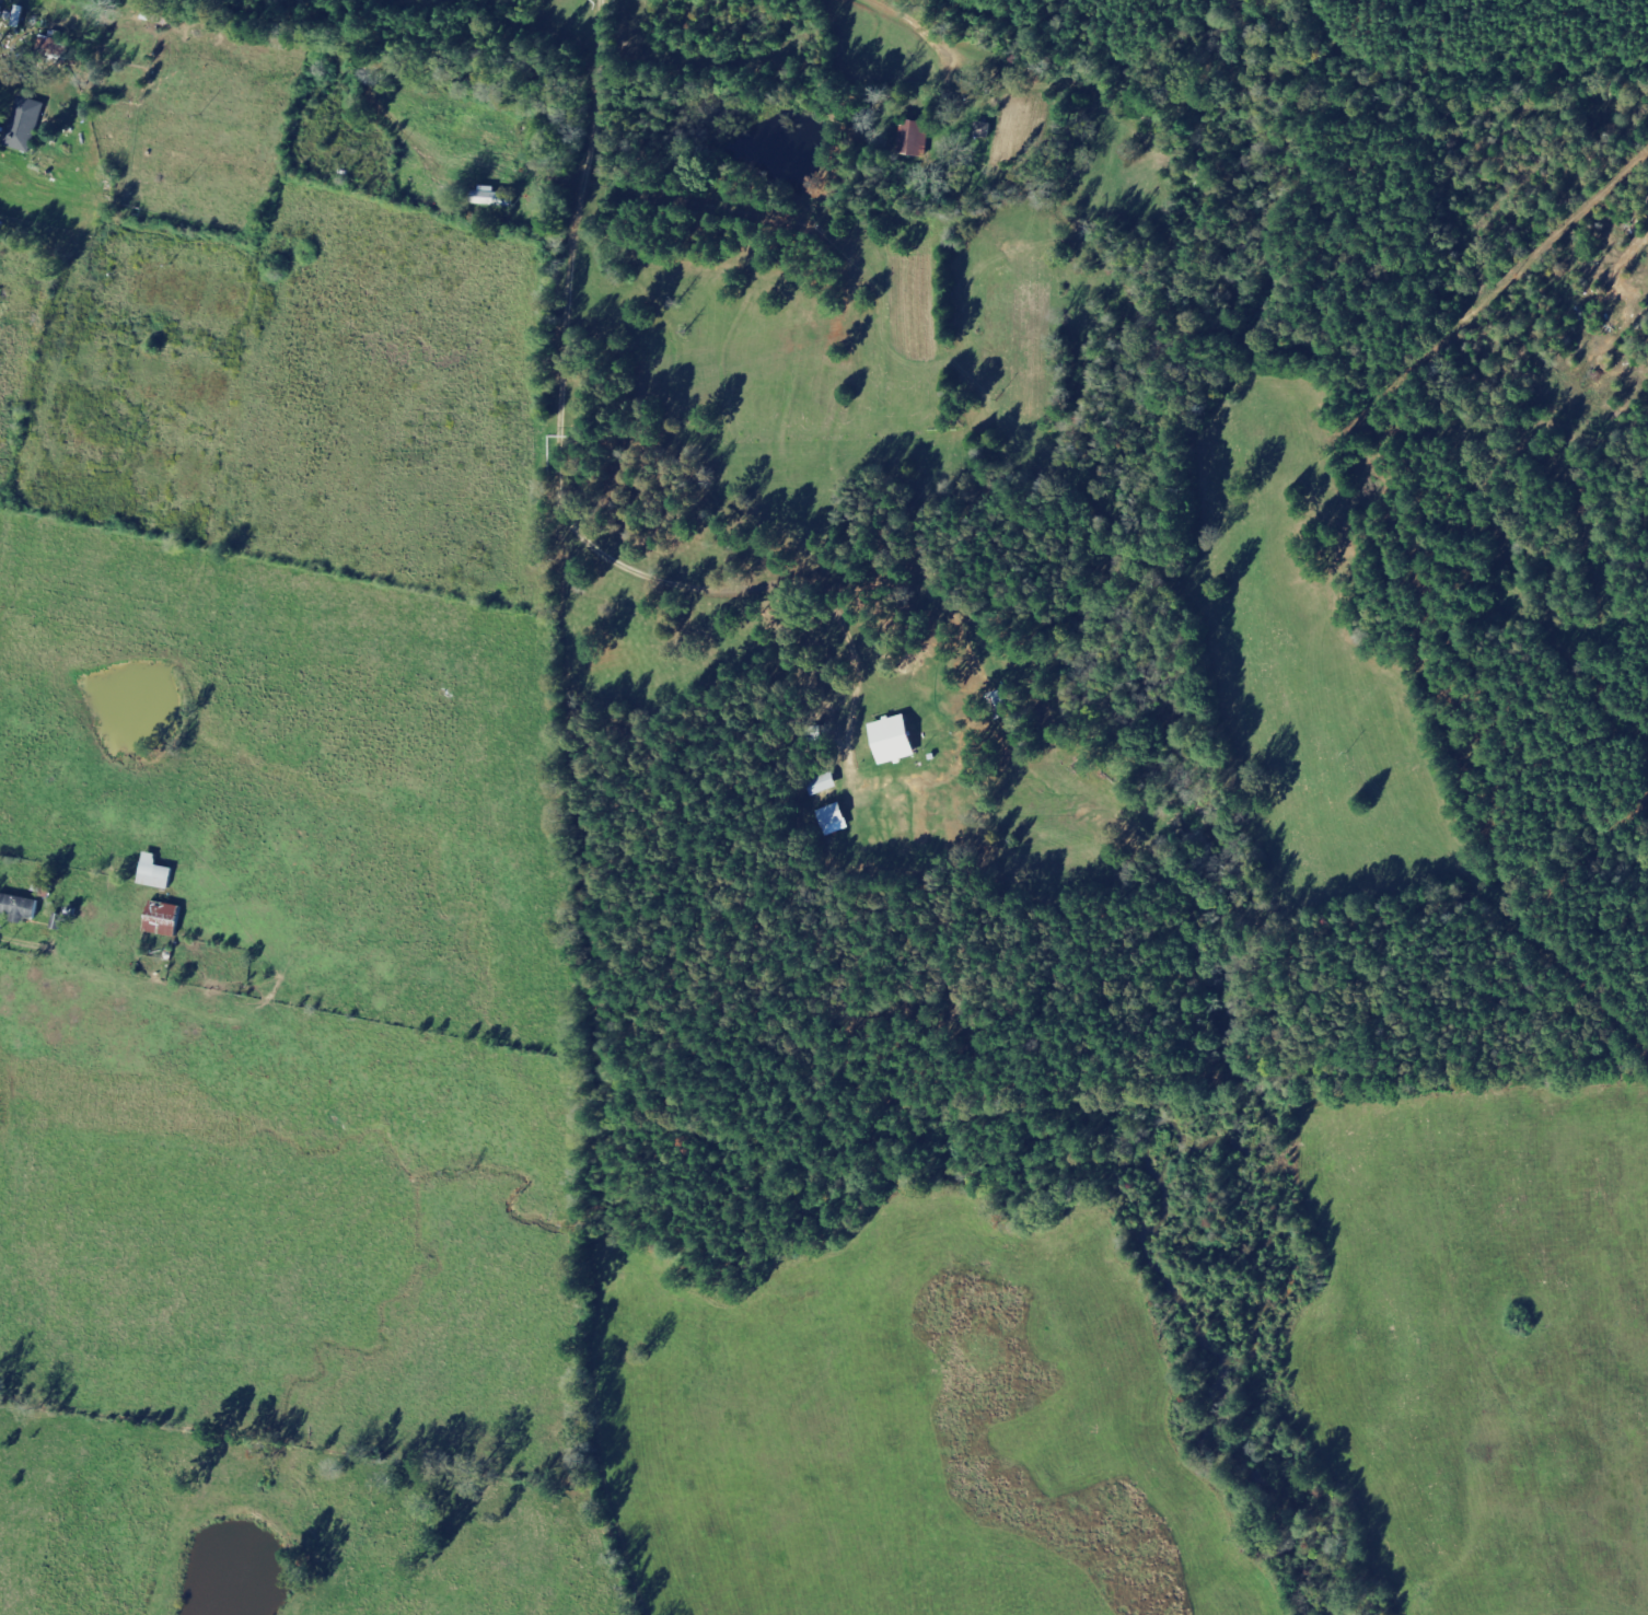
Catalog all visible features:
road: (14, 2)
road: (1008, 28)
road: (189, 56)
building: (27, 125)
building: (918, 139)
road: (1096, 141)
building: (495, 198)
building: (896, 739)
building: (825, 787)
building: (834, 815)
building: (158, 873)
building: (21, 907)
building: (165, 919)

